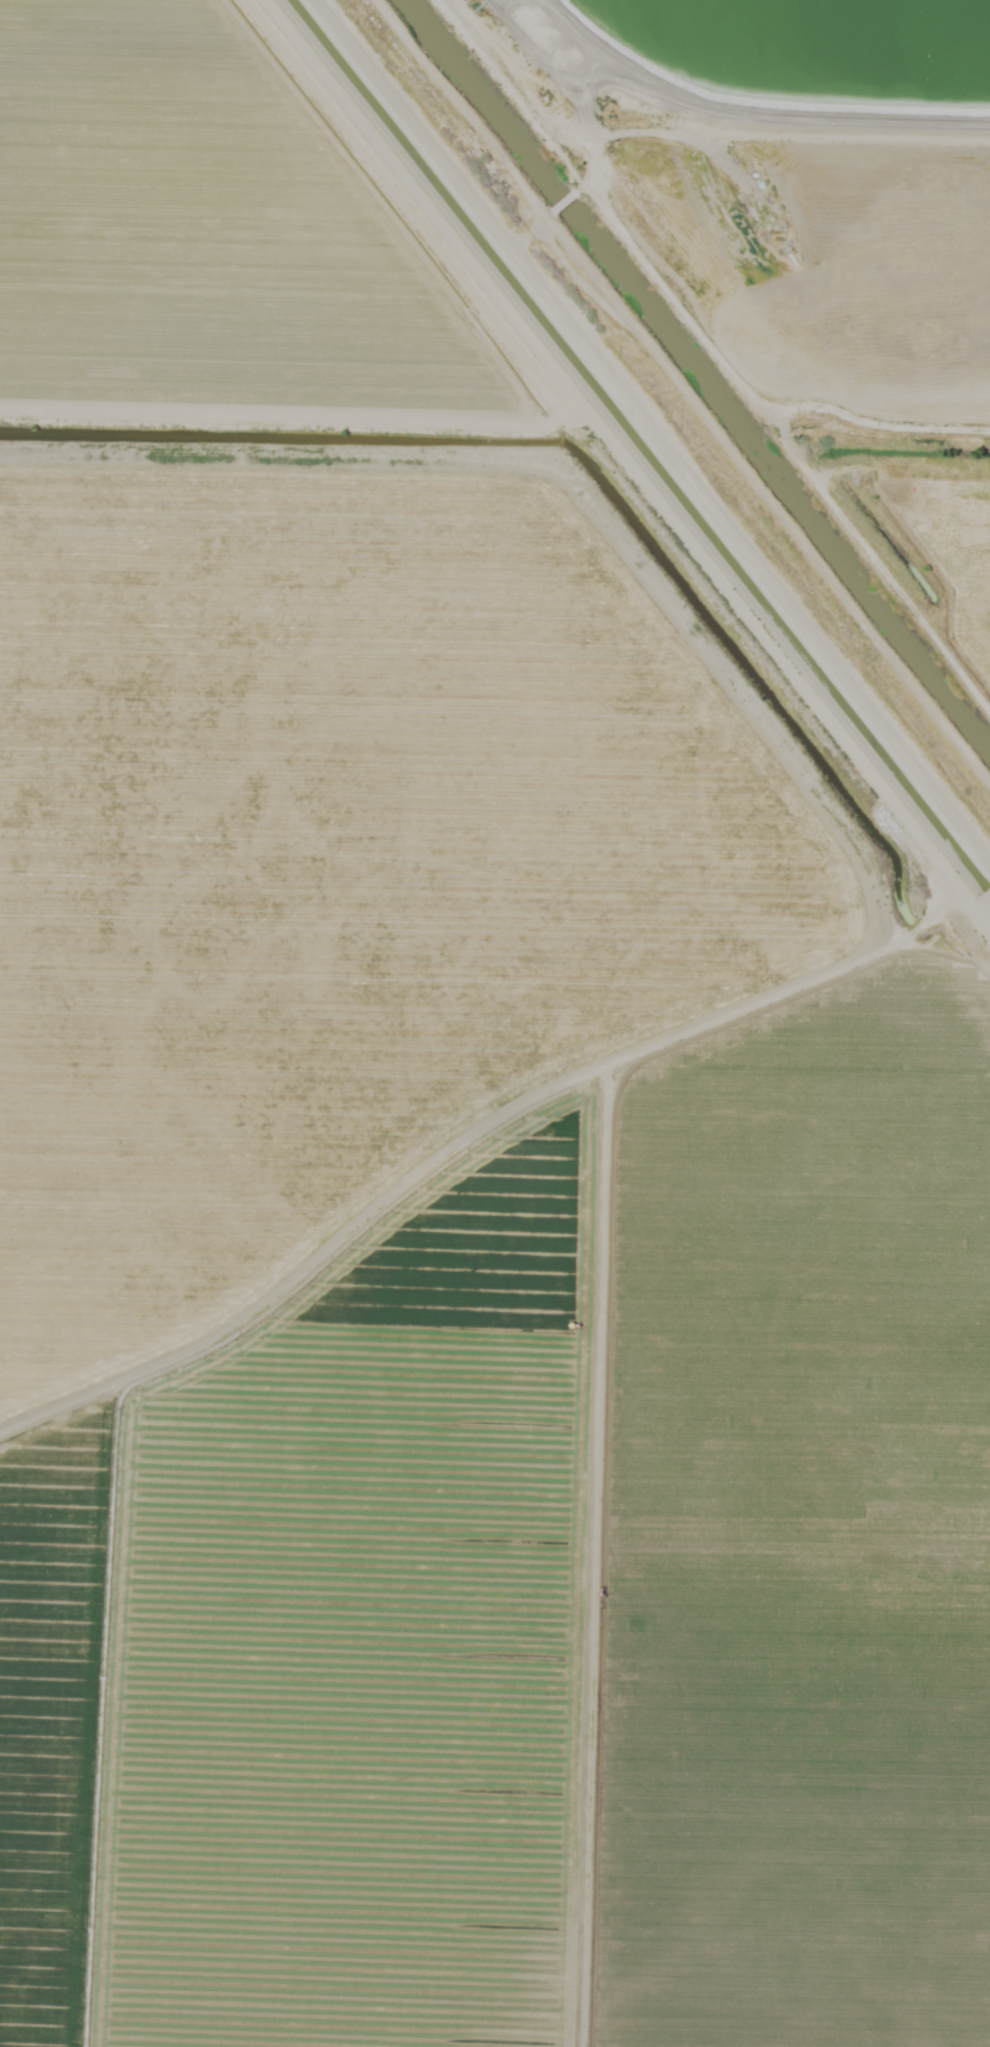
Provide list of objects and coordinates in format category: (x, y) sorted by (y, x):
road: (583, 83)
road: (557, 202)
road: (528, 231)
road: (290, 421)
road: (652, 435)
road: (984, 902)
crop: (486, 1059)
road: (474, 1138)
road: (590, 1555)

